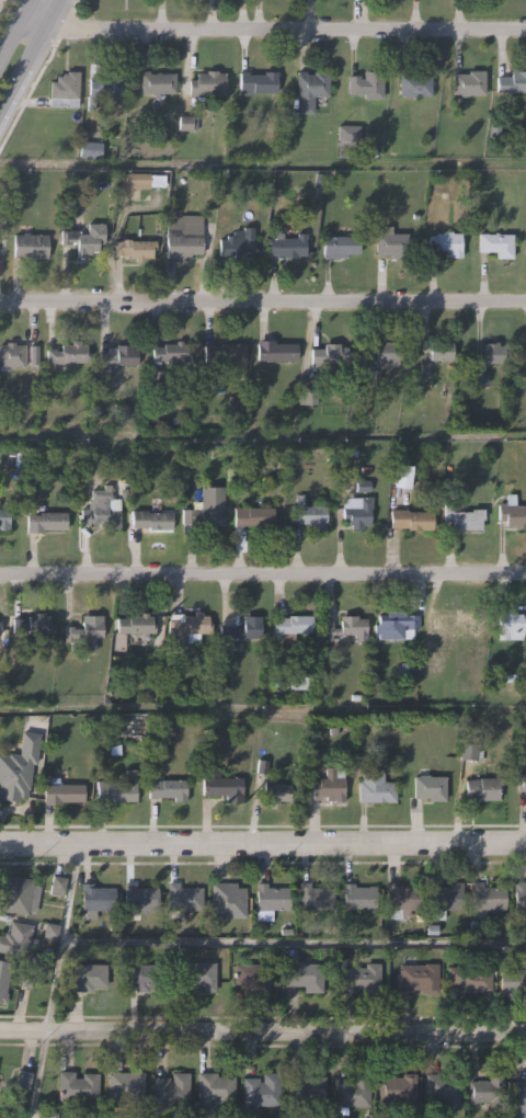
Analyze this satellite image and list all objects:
road: (0, 0)
road: (14, 26)
road: (271, 28)
road: (30, 57)
building: (258, 81)
building: (469, 81)
building: (513, 81)
building: (157, 82)
building: (206, 82)
building: (416, 83)
building: (103, 84)
building: (366, 84)
building: (312, 87)
building: (65, 90)
building: (186, 125)
building: (91, 148)
road: (263, 161)
building: (139, 182)
building: (183, 236)
building: (84, 238)
building: (240, 242)
building: (31, 244)
building: (447, 244)
building: (288, 246)
building: (391, 246)
building: (498, 246)
building: (340, 247)
building: (135, 249)
road: (262, 299)
building: (170, 351)
building: (442, 351)
building: (493, 351)
building: (277, 353)
building: (70, 354)
building: (224, 354)
building: (12, 355)
building: (330, 355)
building: (389, 355)
building: (33, 356)
building: (118, 357)
road: (263, 435)
building: (402, 477)
building: (102, 511)
building: (207, 513)
building: (513, 514)
building: (5, 515)
building: (254, 515)
building: (309, 515)
building: (359, 515)
building: (465, 518)
building: (46, 520)
building: (152, 520)
building: (413, 520)
road: (263, 572)
building: (137, 623)
building: (0, 624)
building: (34, 624)
building: (186, 624)
building: (456, 624)
building: (397, 625)
building: (512, 625)
building: (347, 626)
building: (290, 627)
building: (241, 628)
building: (85, 630)
road: (263, 707)
building: (19, 769)
building: (519, 784)
building: (222, 786)
building: (428, 786)
building: (328, 787)
building: (118, 788)
building: (375, 788)
building: (169, 789)
building: (276, 789)
building: (480, 790)
building: (62, 791)
road: (263, 845)
building: (57, 888)
building: (20, 894)
building: (98, 897)
building: (184, 897)
building: (316, 897)
building: (358, 897)
building: (488, 897)
building: (519, 897)
building: (141, 898)
building: (444, 898)
building: (400, 899)
building: (228, 900)
building: (271, 900)
road: (59, 937)
building: (16, 939)
road: (293, 942)
building: (199, 974)
building: (253, 974)
building: (90, 977)
building: (145, 977)
building: (305, 977)
building: (4, 978)
building: (415, 978)
building: (469, 978)
building: (358, 979)
building: (513, 980)
road: (263, 1030)
road: (39, 1073)
building: (79, 1085)
building: (126, 1086)
building: (215, 1090)
building: (172, 1091)
building: (260, 1091)
building: (306, 1091)
building: (399, 1091)
building: (444, 1091)
building: (487, 1092)
building: (519, 1093)
building: (353, 1094)

